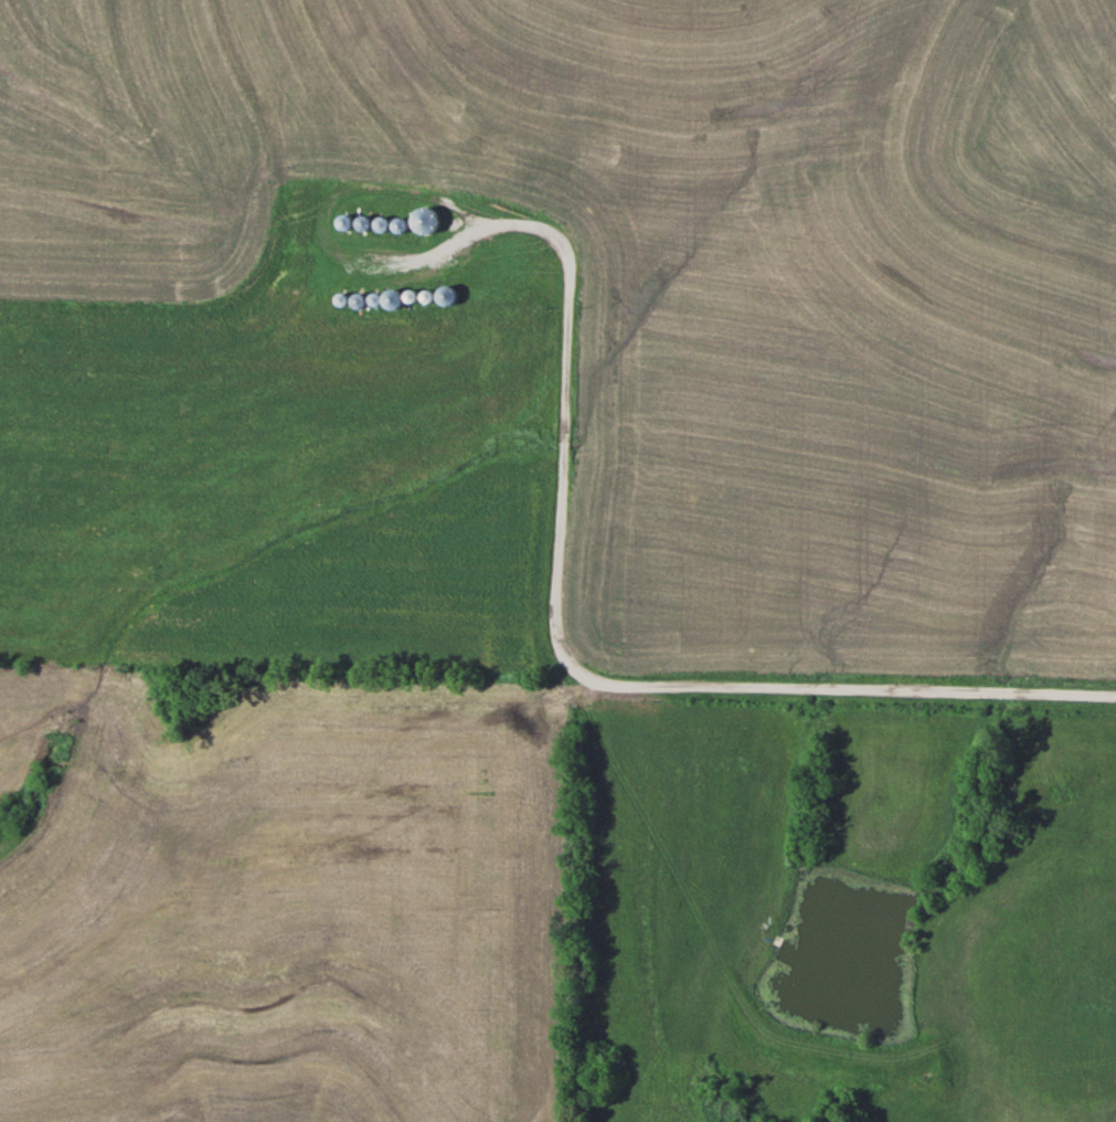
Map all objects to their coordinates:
building: (445, 116)
building: (482, 260)
road: (770, 675)

